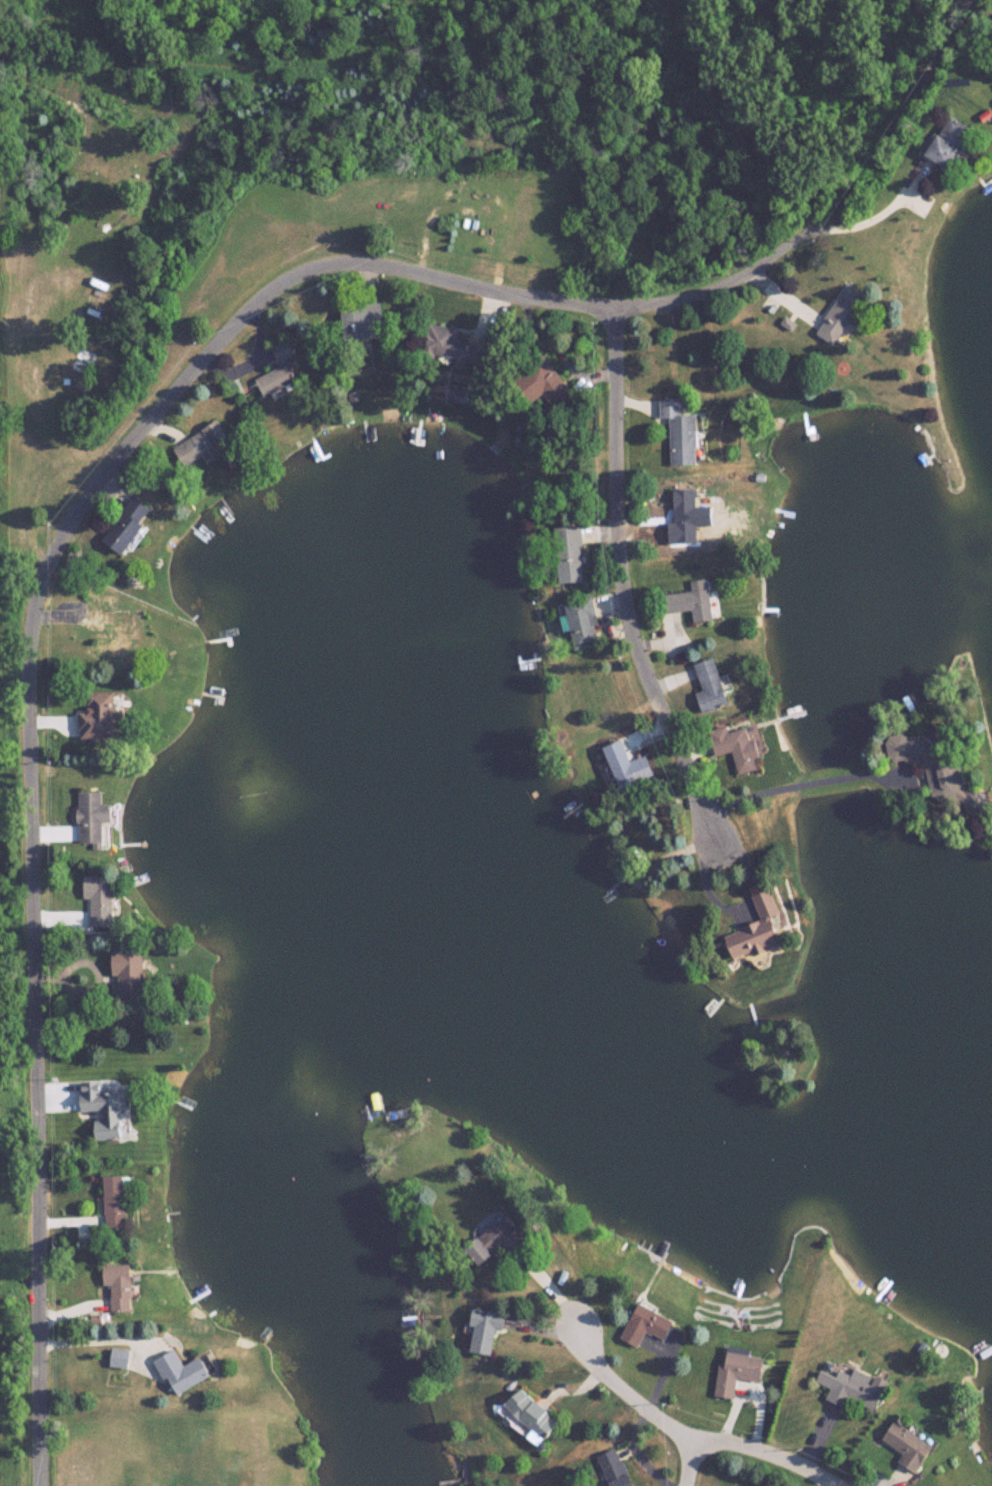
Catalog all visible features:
building: (950, 140)
road: (886, 216)
building: (842, 314)
building: (362, 319)
building: (455, 344)
building: (279, 368)
building: (549, 386)
building: (681, 431)
building: (201, 442)
building: (686, 511)
building: (127, 525)
building: (569, 553)
road: (50, 563)
road: (626, 585)
building: (693, 599)
building: (582, 621)
building: (113, 631)
building: (711, 685)
building: (739, 747)
building: (931, 763)
building: (628, 765)
road: (807, 781)
building: (93, 817)
building: (100, 901)
building: (761, 929)
building: (103, 1109)
building: (116, 1200)
building: (507, 1241)
building: (122, 1286)
building: (650, 1325)
building: (487, 1331)
road: (95, 1343)
building: (122, 1358)
building: (742, 1371)
building: (187, 1372)
building: (856, 1388)
building: (535, 1413)
road: (685, 1431)
building: (912, 1446)
road: (688, 1461)
building: (615, 1469)

